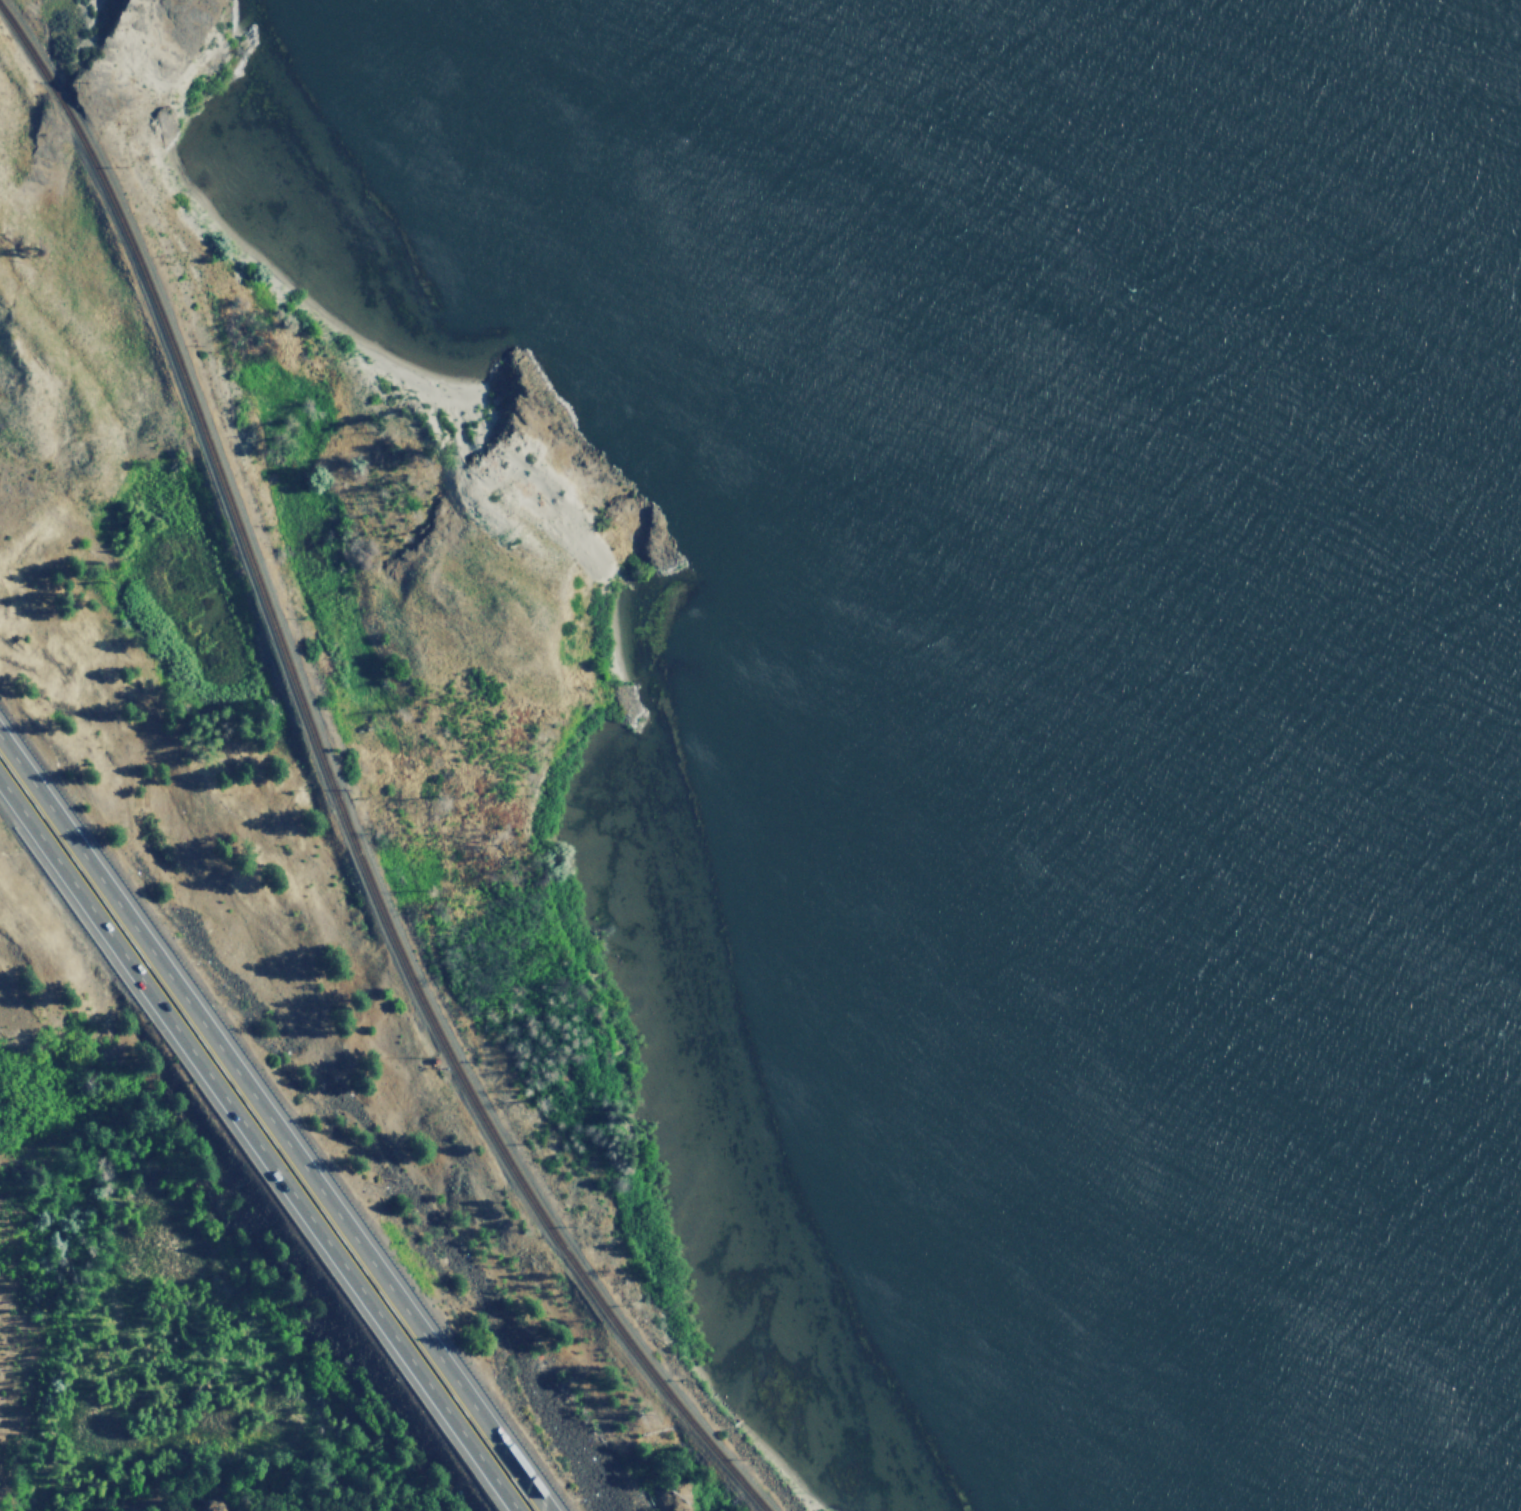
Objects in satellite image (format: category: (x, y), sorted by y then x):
river: (1336, 396)
railway: (343, 785)
road: (275, 1121)
road: (259, 1146)

